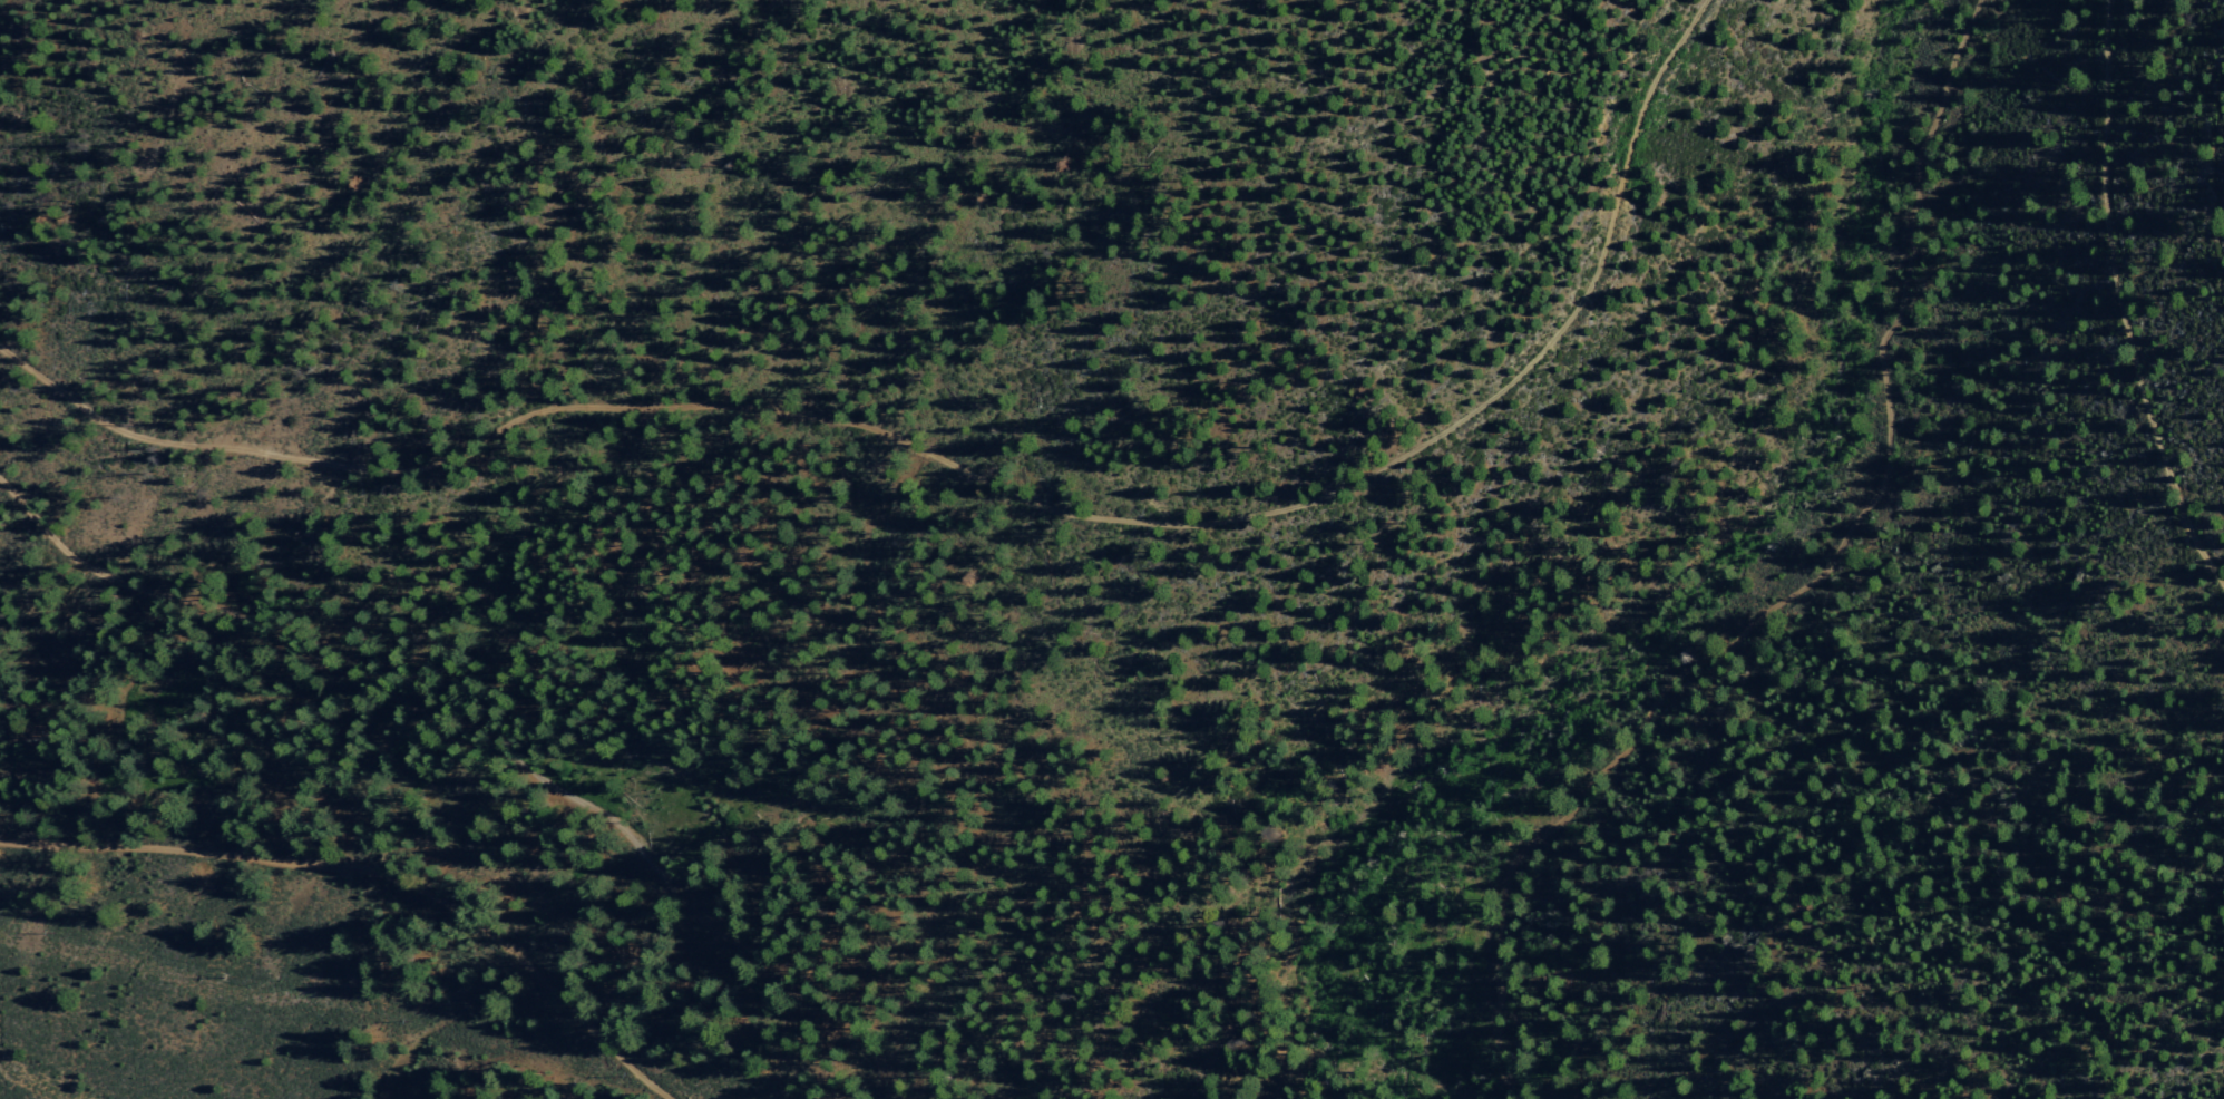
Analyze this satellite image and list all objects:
road: (2117, 301)
road: (968, 467)
road: (1796, 590)
road: (475, 738)
road: (377, 868)

